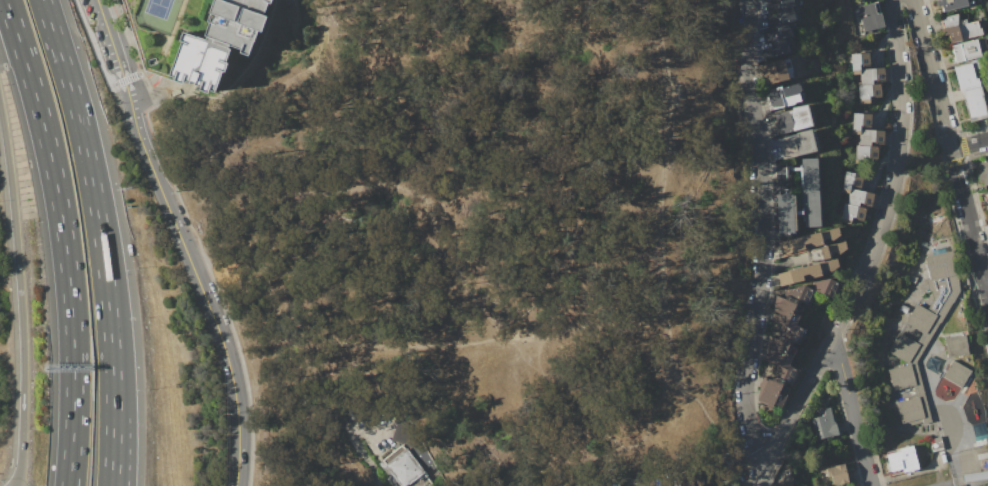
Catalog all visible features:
building: (780, 0)
building: (856, 0)
building: (952, 4)
building: (780, 5)
building: (787, 10)
park: (159, 14)
building: (869, 17)
building: (780, 19)
building: (782, 27)
building: (960, 28)
building: (777, 35)
building: (199, 38)
road: (112, 39)
building: (781, 41)
building: (966, 50)
road: (96, 51)
building: (775, 51)
building: (858, 62)
building: (773, 71)
building: (871, 75)
road: (933, 81)
building: (987, 81)
road: (282, 83)
building: (867, 92)
building: (970, 92)
road: (162, 96)
building: (781, 96)
park: (686, 119)
building: (792, 119)
building: (859, 122)
building: (869, 137)
road: (968, 143)
building: (797, 144)
building: (863, 153)
building: (983, 172)
building: (782, 178)
building: (850, 182)
road: (400, 187)
building: (811, 192)
building: (987, 195)
building: (859, 198)
building: (785, 213)
building: (850, 213)
road: (971, 229)
road: (761, 232)
road: (63, 239)
road: (100, 239)
building: (807, 240)
road: (659, 246)
building: (833, 249)
road: (870, 252)
road: (201, 266)
building: (804, 272)
building: (925, 274)
road: (197, 279)
building: (913, 279)
building: (826, 287)
road: (20, 296)
building: (793, 299)
road: (252, 300)
building: (930, 306)
building: (904, 309)
road: (585, 326)
building: (784, 332)
road: (454, 345)
building: (956, 346)
building: (956, 374)
building: (901, 377)
building: (776, 379)
road: (849, 396)
building: (910, 410)
road: (116, 412)
road: (607, 417)
building: (824, 423)
building: (936, 444)
road: (360, 448)
building: (835, 457)
building: (901, 459)
building: (406, 468)
road: (869, 471)
road: (17, 474)
building: (837, 475)
building: (975, 477)
building: (784, 483)
building: (592, 484)
building: (612, 484)
building: (645, 485)

